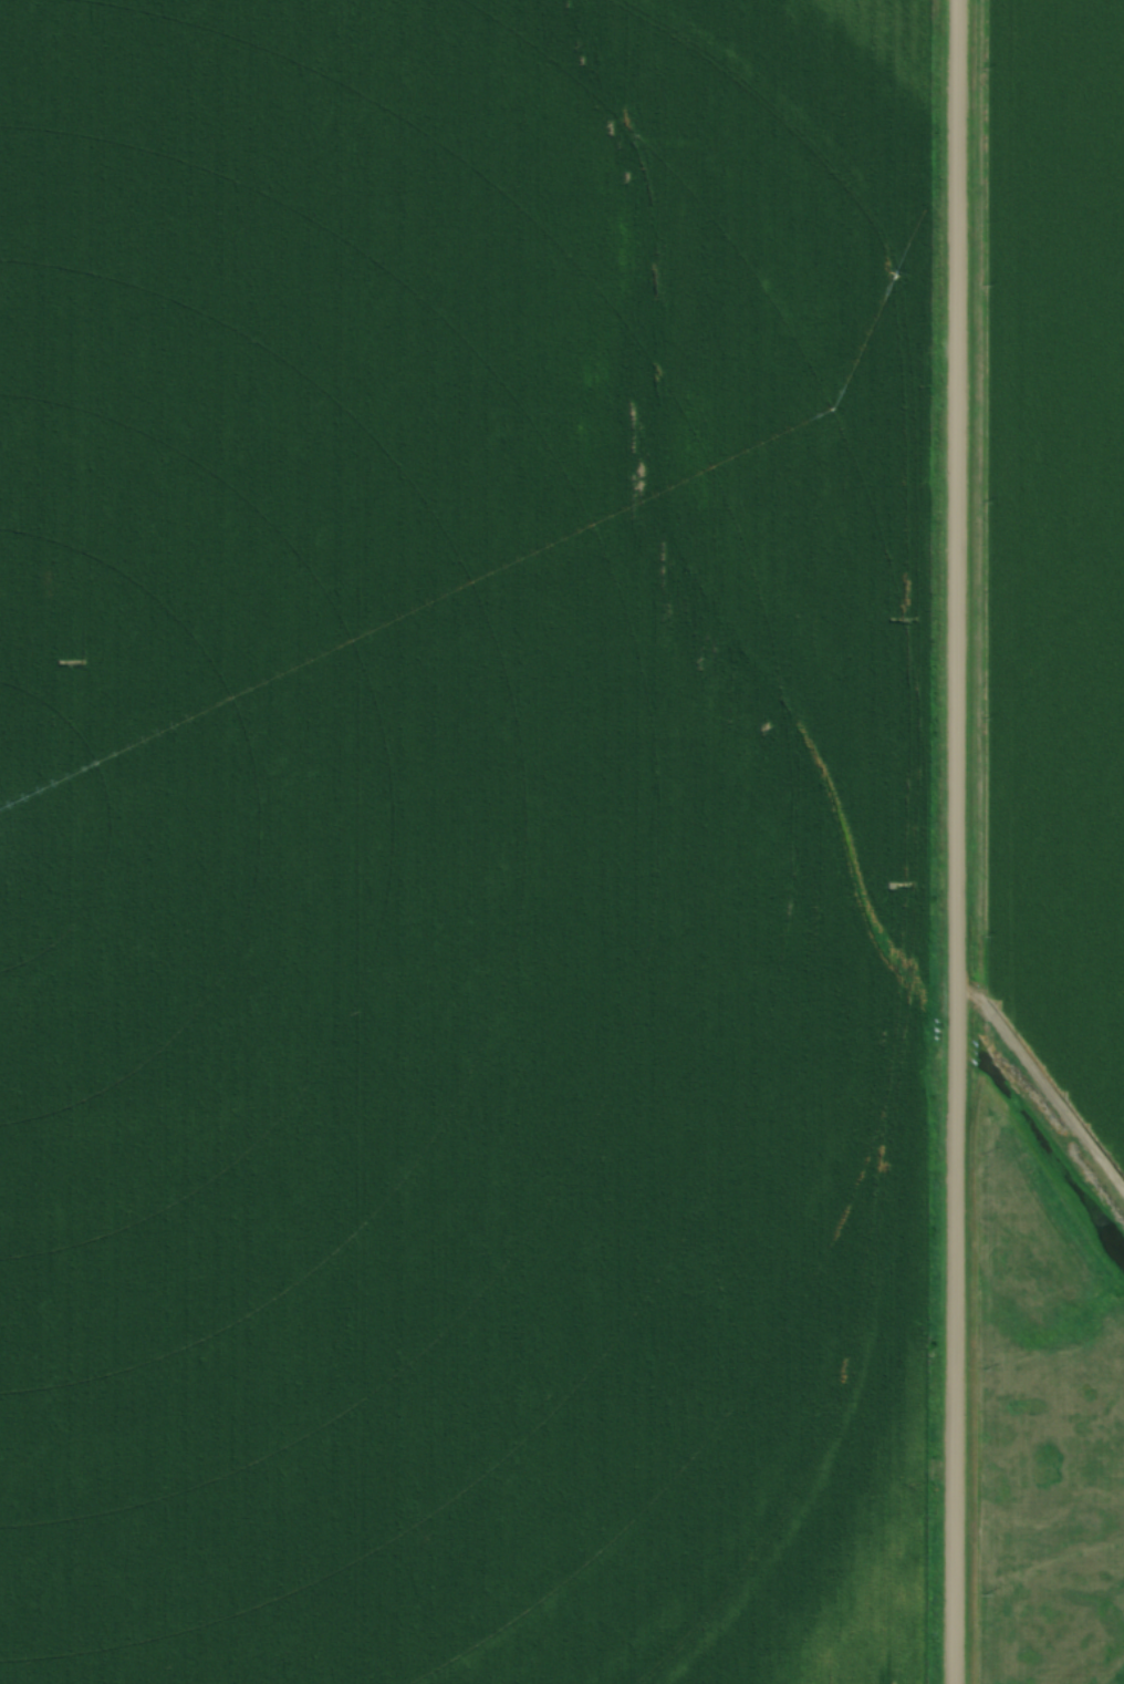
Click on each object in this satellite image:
road: (957, 841)

